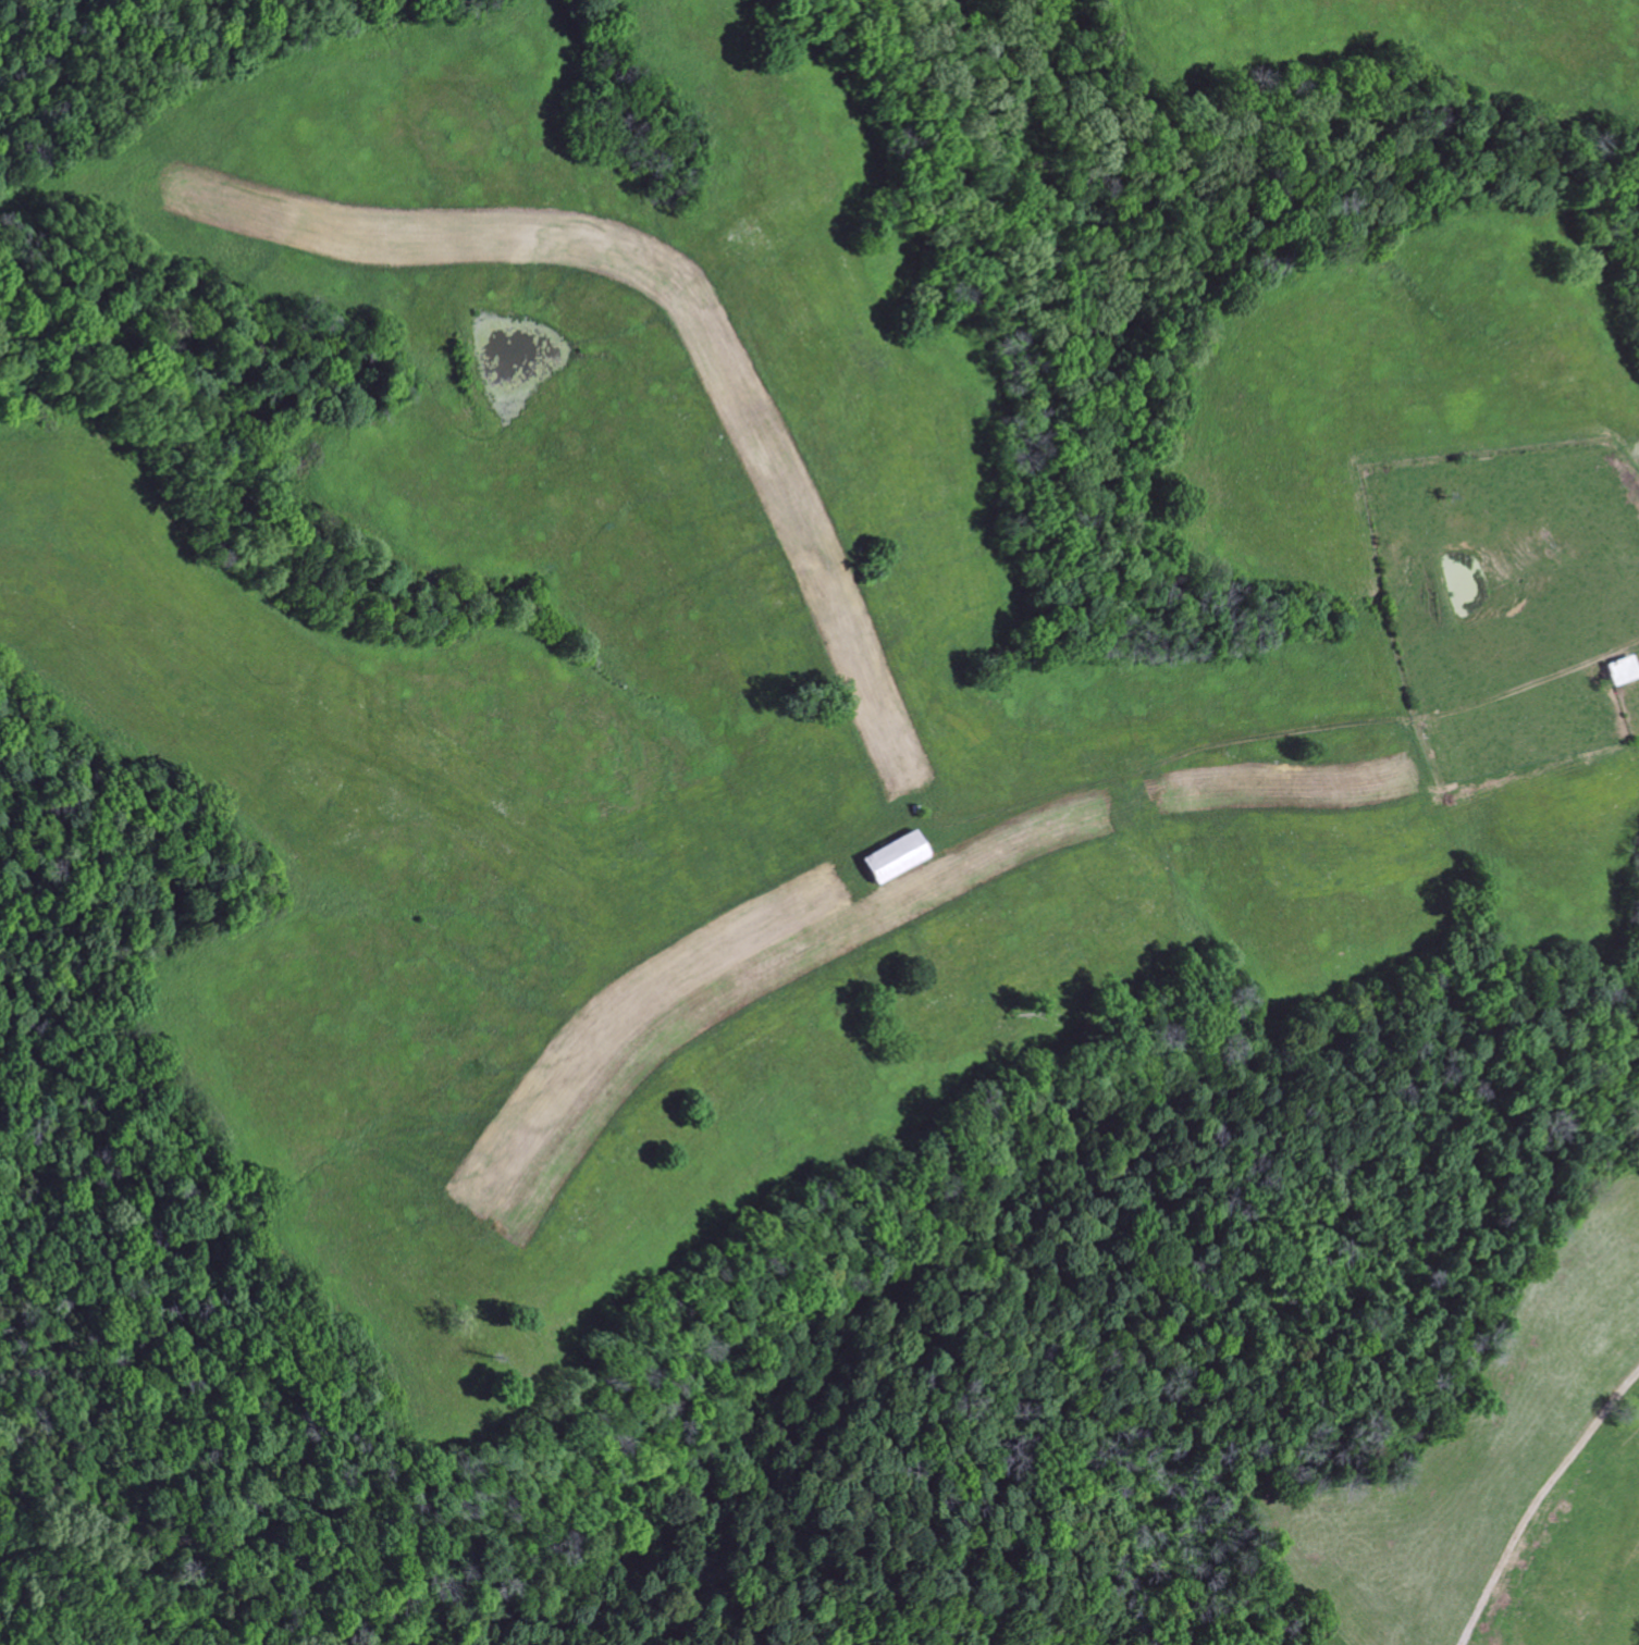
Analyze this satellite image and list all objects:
building: (1624, 672)
road: (1282, 755)
building: (897, 856)
road: (1542, 1500)

